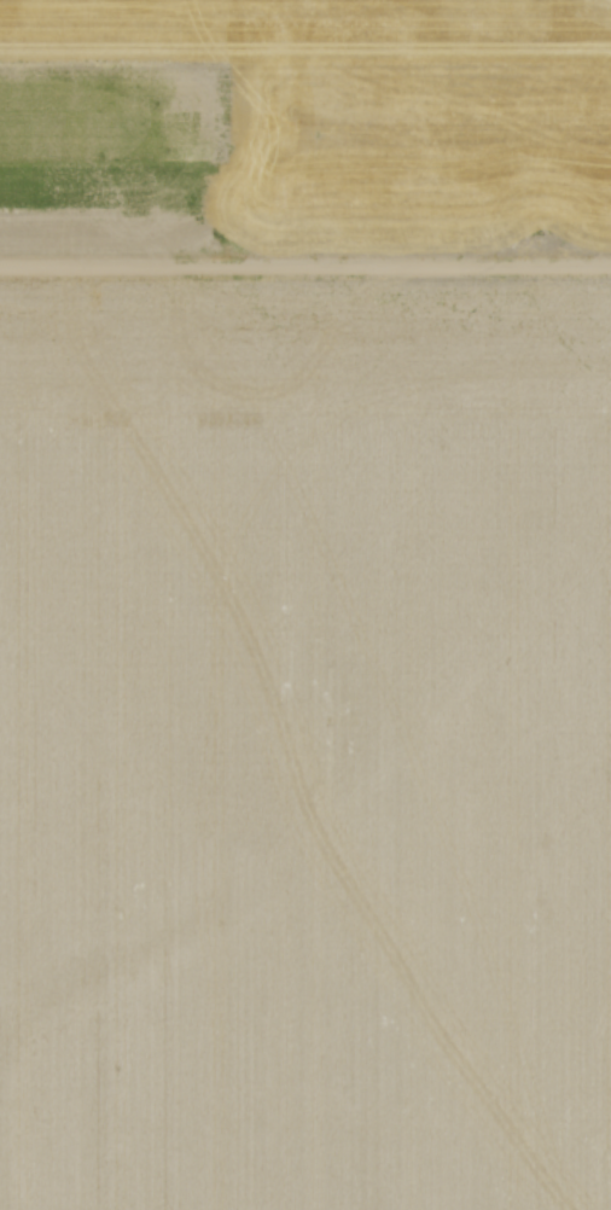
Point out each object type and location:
crop: (304, 124)
road: (305, 262)
crop: (305, 743)

